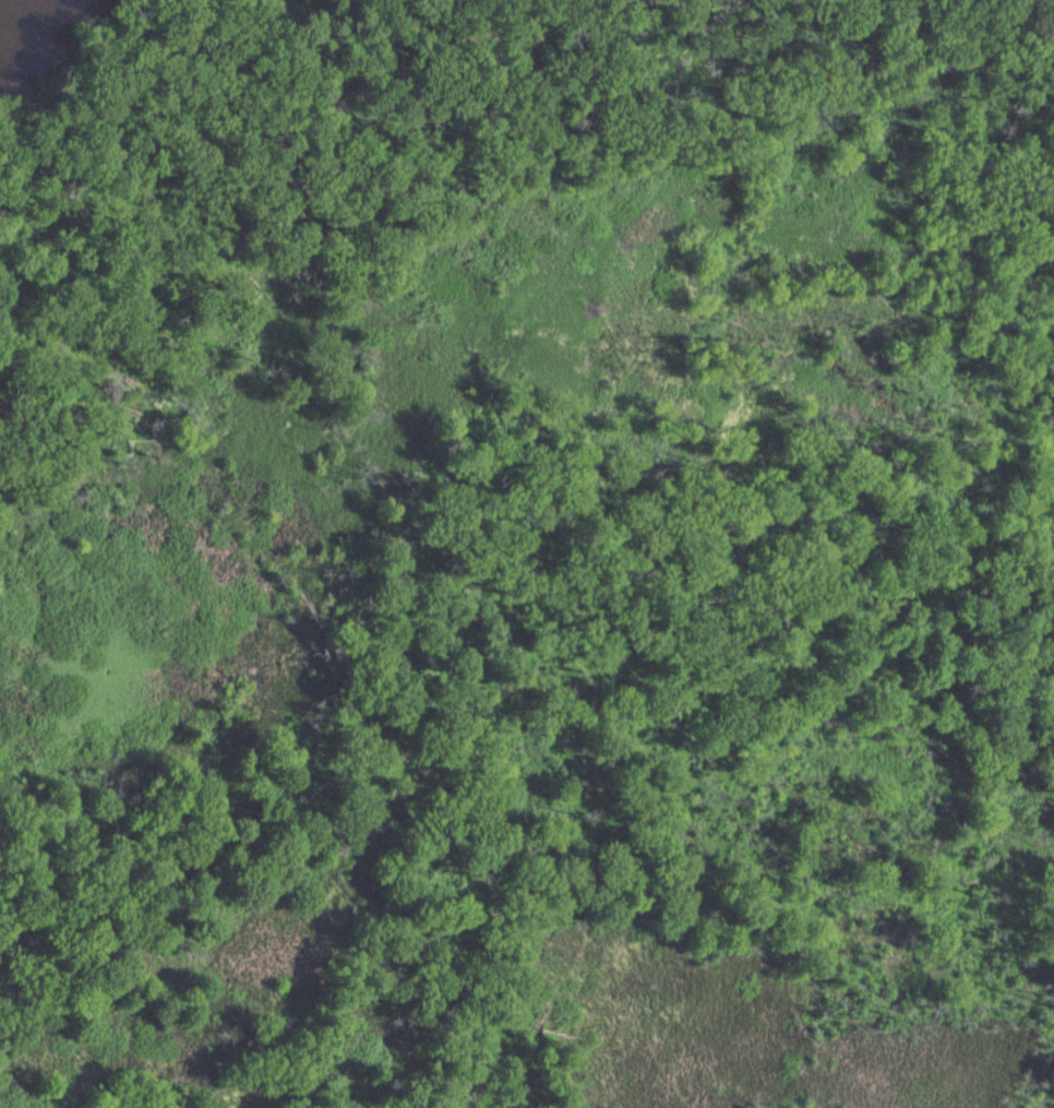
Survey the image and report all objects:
river: (26, 26)

